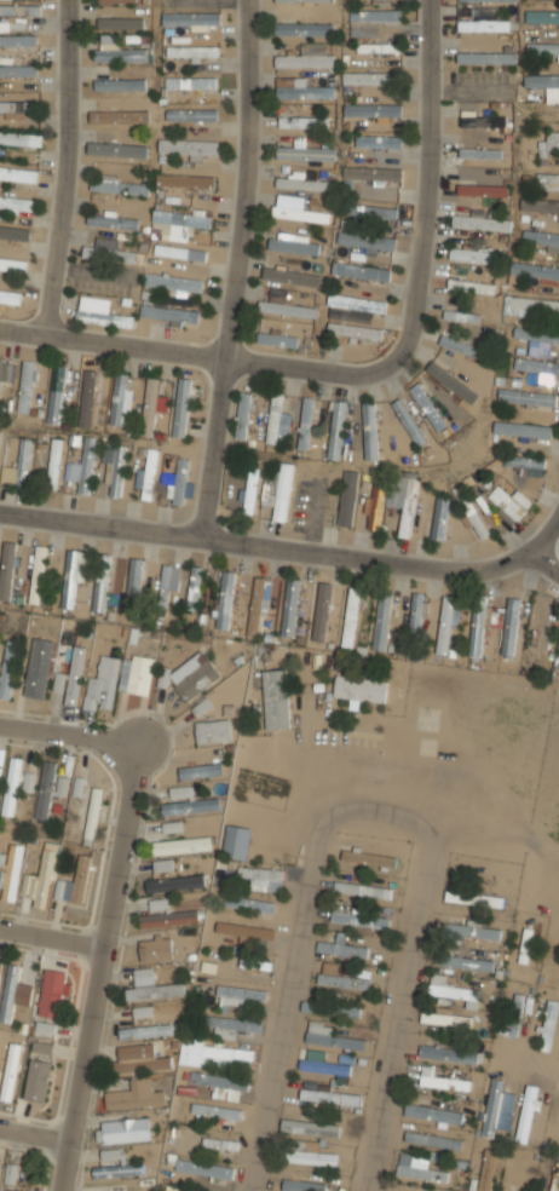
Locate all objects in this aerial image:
building: (305, 0)
building: (488, 0)
building: (116, 1)
building: (380, 1)
building: (18, 13)
building: (375, 15)
building: (542, 16)
building: (191, 18)
building: (116, 22)
building: (12, 23)
building: (484, 25)
building: (304, 28)
building: (558, 28)
building: (18, 40)
building: (379, 47)
building: (542, 48)
building: (116, 50)
building: (192, 52)
building: (486, 57)
building: (304, 61)
building: (18, 70)
building: (368, 77)
building: (541, 81)
building: (191, 84)
building: (114, 85)
building: (304, 90)
building: (18, 107)
building: (373, 110)
building: (546, 114)
building: (191, 115)
building: (119, 117)
building: (302, 120)
building: (476, 120)
building: (21, 137)
building: (374, 140)
building: (553, 140)
building: (188, 148)
building: (119, 150)
building: (305, 153)
building: (480, 153)
road: (67, 169)
building: (18, 174)
building: (371, 174)
building: (547, 179)
building: (184, 180)
building: (301, 182)
building: (115, 183)
road: (426, 184)
building: (483, 190)
building: (16, 202)
building: (540, 206)
building: (298, 209)
building: (371, 211)
building: (181, 219)
building: (480, 220)
building: (113, 221)
building: (15, 234)
building: (367, 241)
building: (541, 241)
building: (294, 243)
building: (180, 252)
building: (111, 253)
building: (474, 255)
building: (11, 264)
building: (534, 270)
road: (237, 271)
building: (361, 271)
building: (295, 275)
building: (173, 283)
building: (473, 286)
building: (8, 294)
building: (353, 307)
building: (531, 307)
building: (287, 309)
building: (168, 313)
building: (462, 315)
building: (104, 317)
building: (355, 330)
building: (277, 339)
building: (537, 340)
building: (462, 346)
road: (197, 359)
building: (0, 361)
building: (537, 366)
building: (453, 381)
building: (25, 387)
building: (56, 393)
building: (526, 395)
building: (87, 398)
building: (120, 398)
building: (150, 405)
building: (181, 407)
building: (428, 407)
building: (242, 415)
building: (277, 419)
building: (409, 421)
building: (305, 422)
building: (336, 430)
building: (370, 430)
building: (523, 431)
building: (0, 454)
building: (23, 462)
building: (521, 462)
building: (54, 464)
building: (85, 466)
building: (115, 471)
building: (150, 473)
building: (179, 482)
building: (277, 490)
building: (249, 491)
building: (393, 496)
building: (346, 500)
building: (508, 504)
building: (409, 505)
building: (376, 510)
building: (471, 511)
building: (440, 518)
road: (544, 540)
road: (283, 552)
building: (6, 569)
building: (38, 575)
building: (73, 576)
building: (133, 576)
building: (171, 579)
building: (100, 582)
building: (194, 587)
building: (224, 599)
building: (257, 605)
building: (289, 606)
building: (325, 612)
building: (415, 612)
building: (351, 616)
building: (382, 621)
building: (446, 626)
building: (483, 626)
building: (39, 667)
building: (8, 668)
building: (76, 675)
building: (140, 675)
building: (192, 675)
building: (59, 681)
building: (103, 683)
building: (359, 689)
building: (276, 698)
building: (213, 731)
road: (69, 736)
road: (322, 769)
building: (0, 771)
building: (200, 771)
building: (28, 781)
building: (11, 786)
building: (62, 787)
building: (79, 788)
building: (45, 789)
building: (188, 801)
road: (368, 815)
building: (93, 816)
building: (172, 827)
road: (494, 832)
building: (236, 841)
building: (181, 846)
building: (369, 859)
building: (162, 864)
building: (10, 871)
building: (264, 876)
building: (42, 878)
building: (75, 882)
building: (174, 884)
building: (362, 890)
building: (474, 898)
building: (249, 903)
building: (167, 915)
building: (359, 919)
building: (244, 931)
building: (472, 931)
road: (52, 933)
building: (525, 945)
building: (340, 947)
building: (155, 948)
building: (254, 962)
building: (465, 962)
road: (99, 968)
building: (344, 977)
building: (453, 990)
building: (155, 991)
building: (13, 993)
building: (52, 993)
building: (241, 994)
building: (330, 1008)
building: (143, 1012)
building: (513, 1014)
building: (444, 1019)
building: (547, 1025)
building: (230, 1026)
building: (45, 1028)
building: (148, 1030)
building: (334, 1037)
building: (41, 1048)
building: (450, 1053)
building: (219, 1054)
building: (139, 1059)
road: (530, 1061)
building: (324, 1064)
building: (10, 1071)
building: (36, 1080)
building: (444, 1082)
building: (221, 1084)
building: (136, 1095)
building: (329, 1098)
building: (492, 1107)
building: (217, 1111)
building: (433, 1112)
building: (528, 1114)
building: (310, 1128)
road: (35, 1129)
building: (126, 1129)
building: (433, 1140)
building: (220, 1144)
building: (311, 1157)
building: (417, 1167)
building: (204, 1168)
building: (0, 1169)
building: (489, 1169)
building: (117, 1170)
building: (11, 1173)
building: (554, 1175)
building: (302, 1185)
building: (11, 1190)

